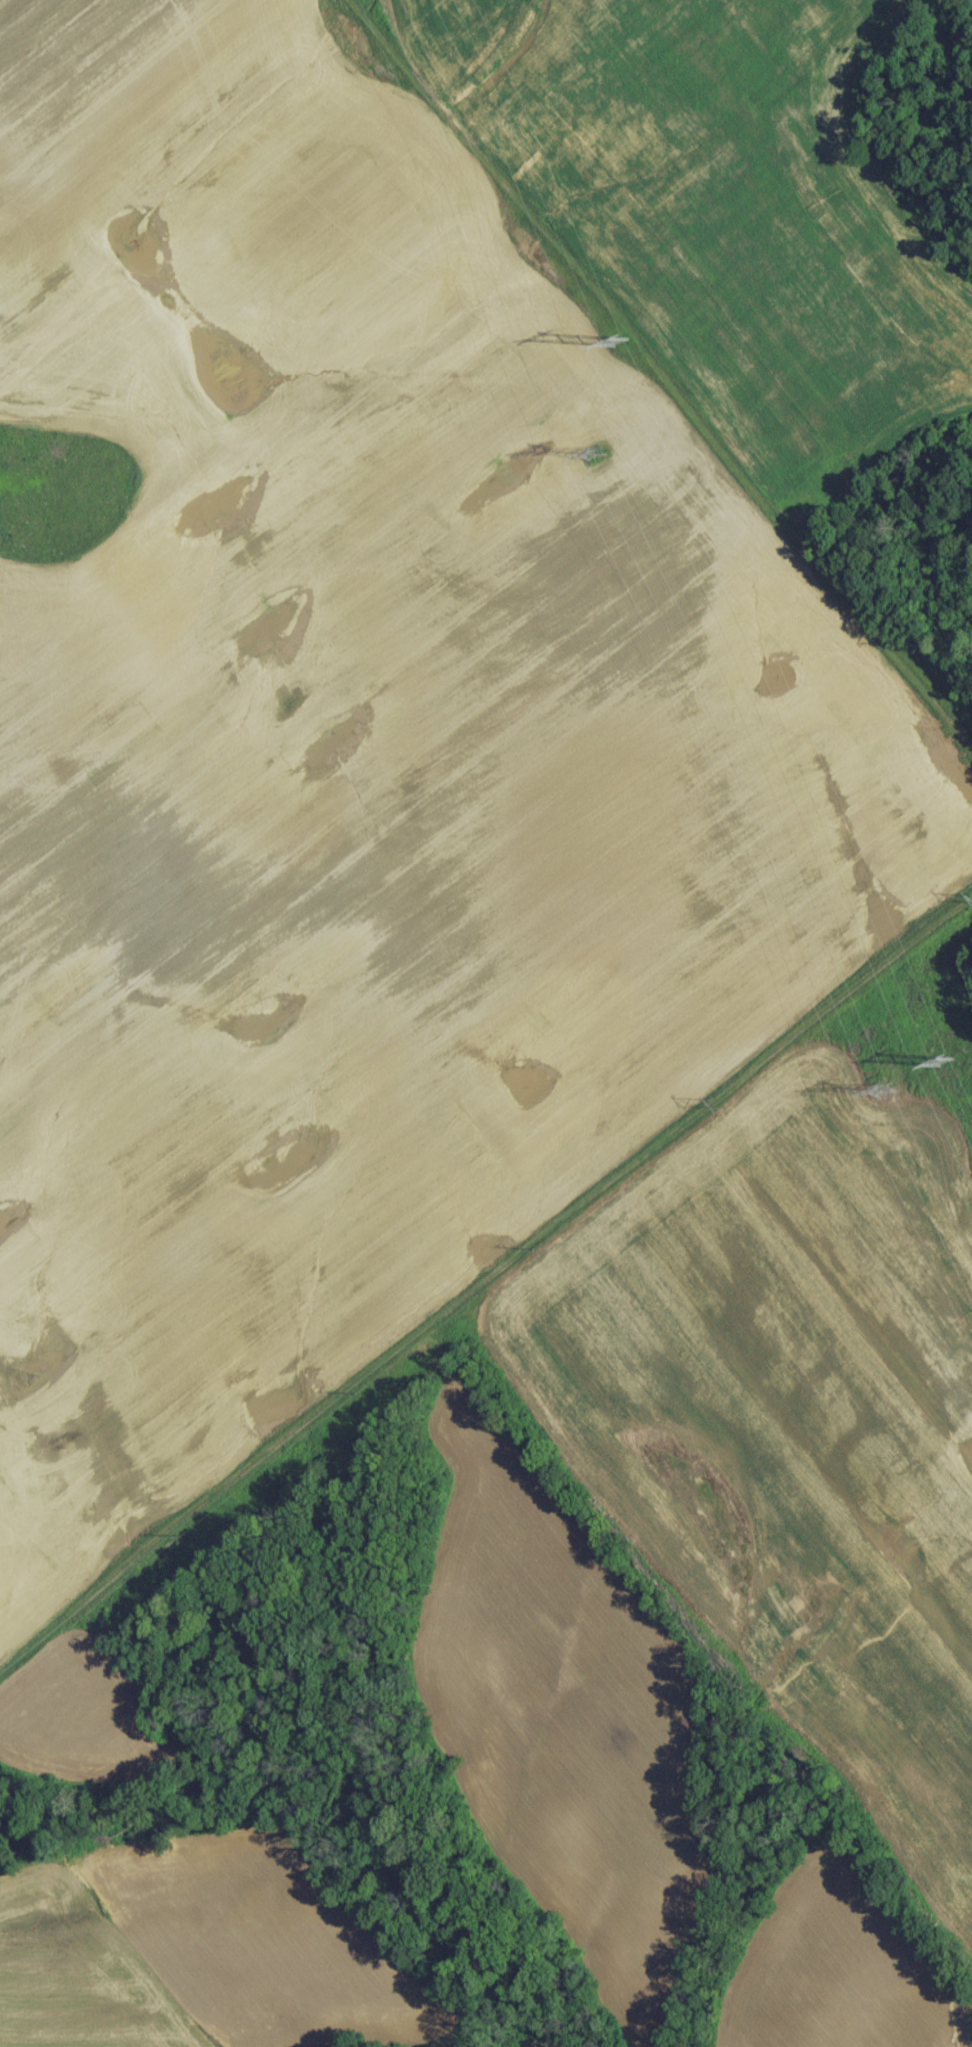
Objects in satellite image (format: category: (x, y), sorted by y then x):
power tower: (623, 349)
power tower: (597, 459)
power tower: (949, 1067)
power tower: (894, 1098)

